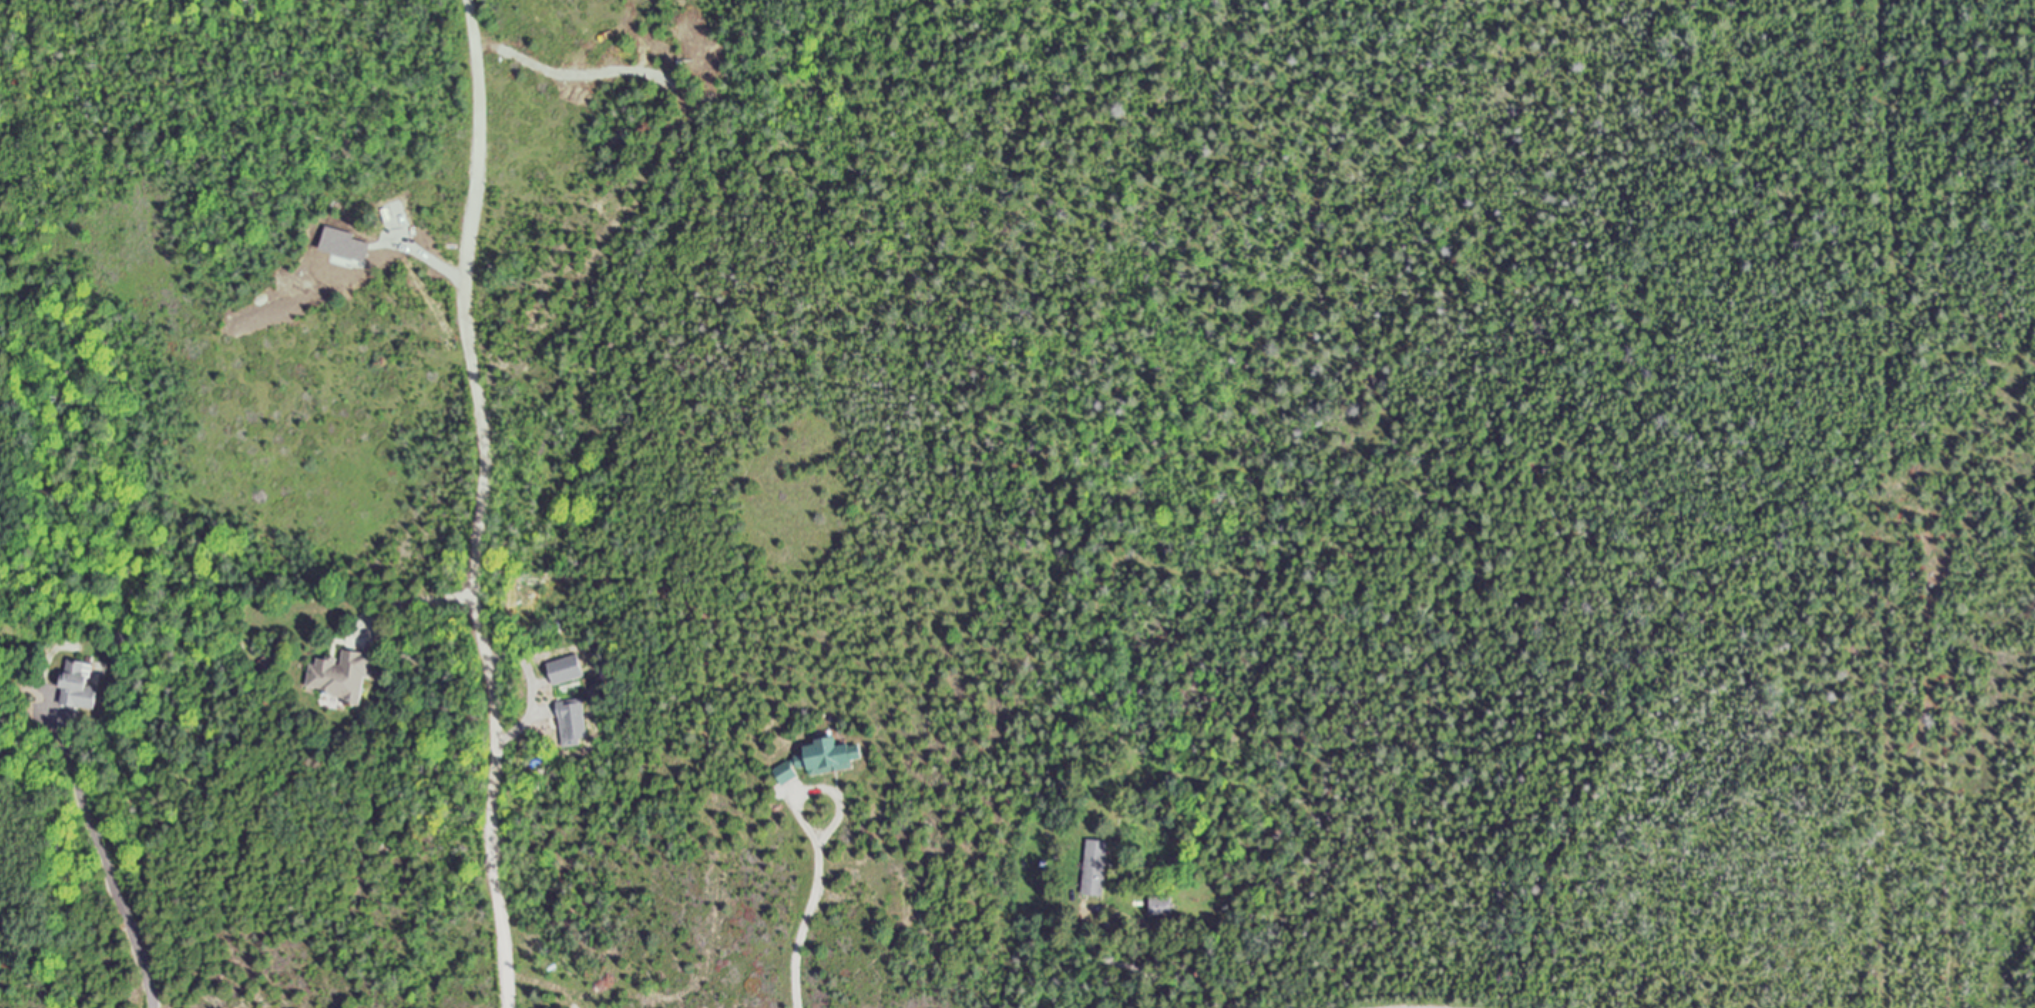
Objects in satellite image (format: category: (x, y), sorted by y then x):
road: (483, 504)
road: (418, 602)
building: (340, 675)
building: (78, 686)
building: (820, 759)
road: (815, 790)
road: (108, 863)
building: (1095, 868)
road: (806, 922)

